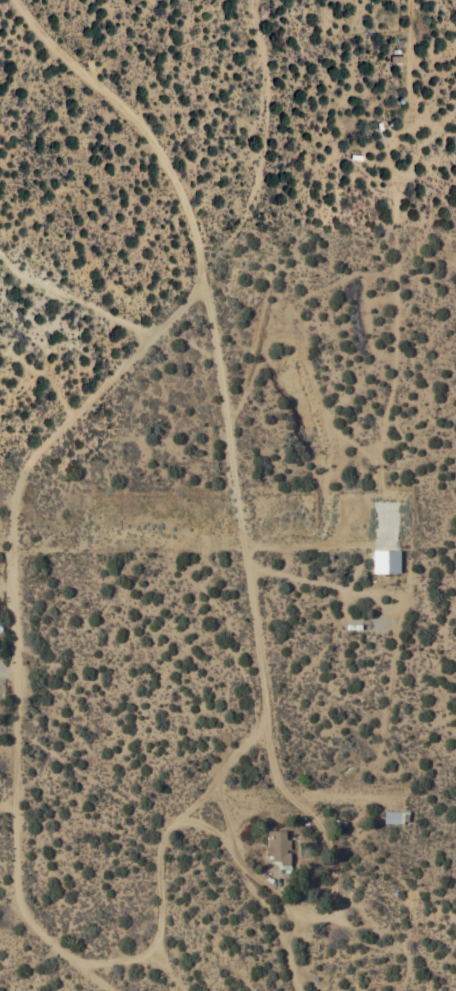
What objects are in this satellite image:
road: (140, 123)
building: (387, 561)
road: (301, 795)
building: (396, 816)
road: (230, 833)
building: (279, 850)
road: (83, 962)

